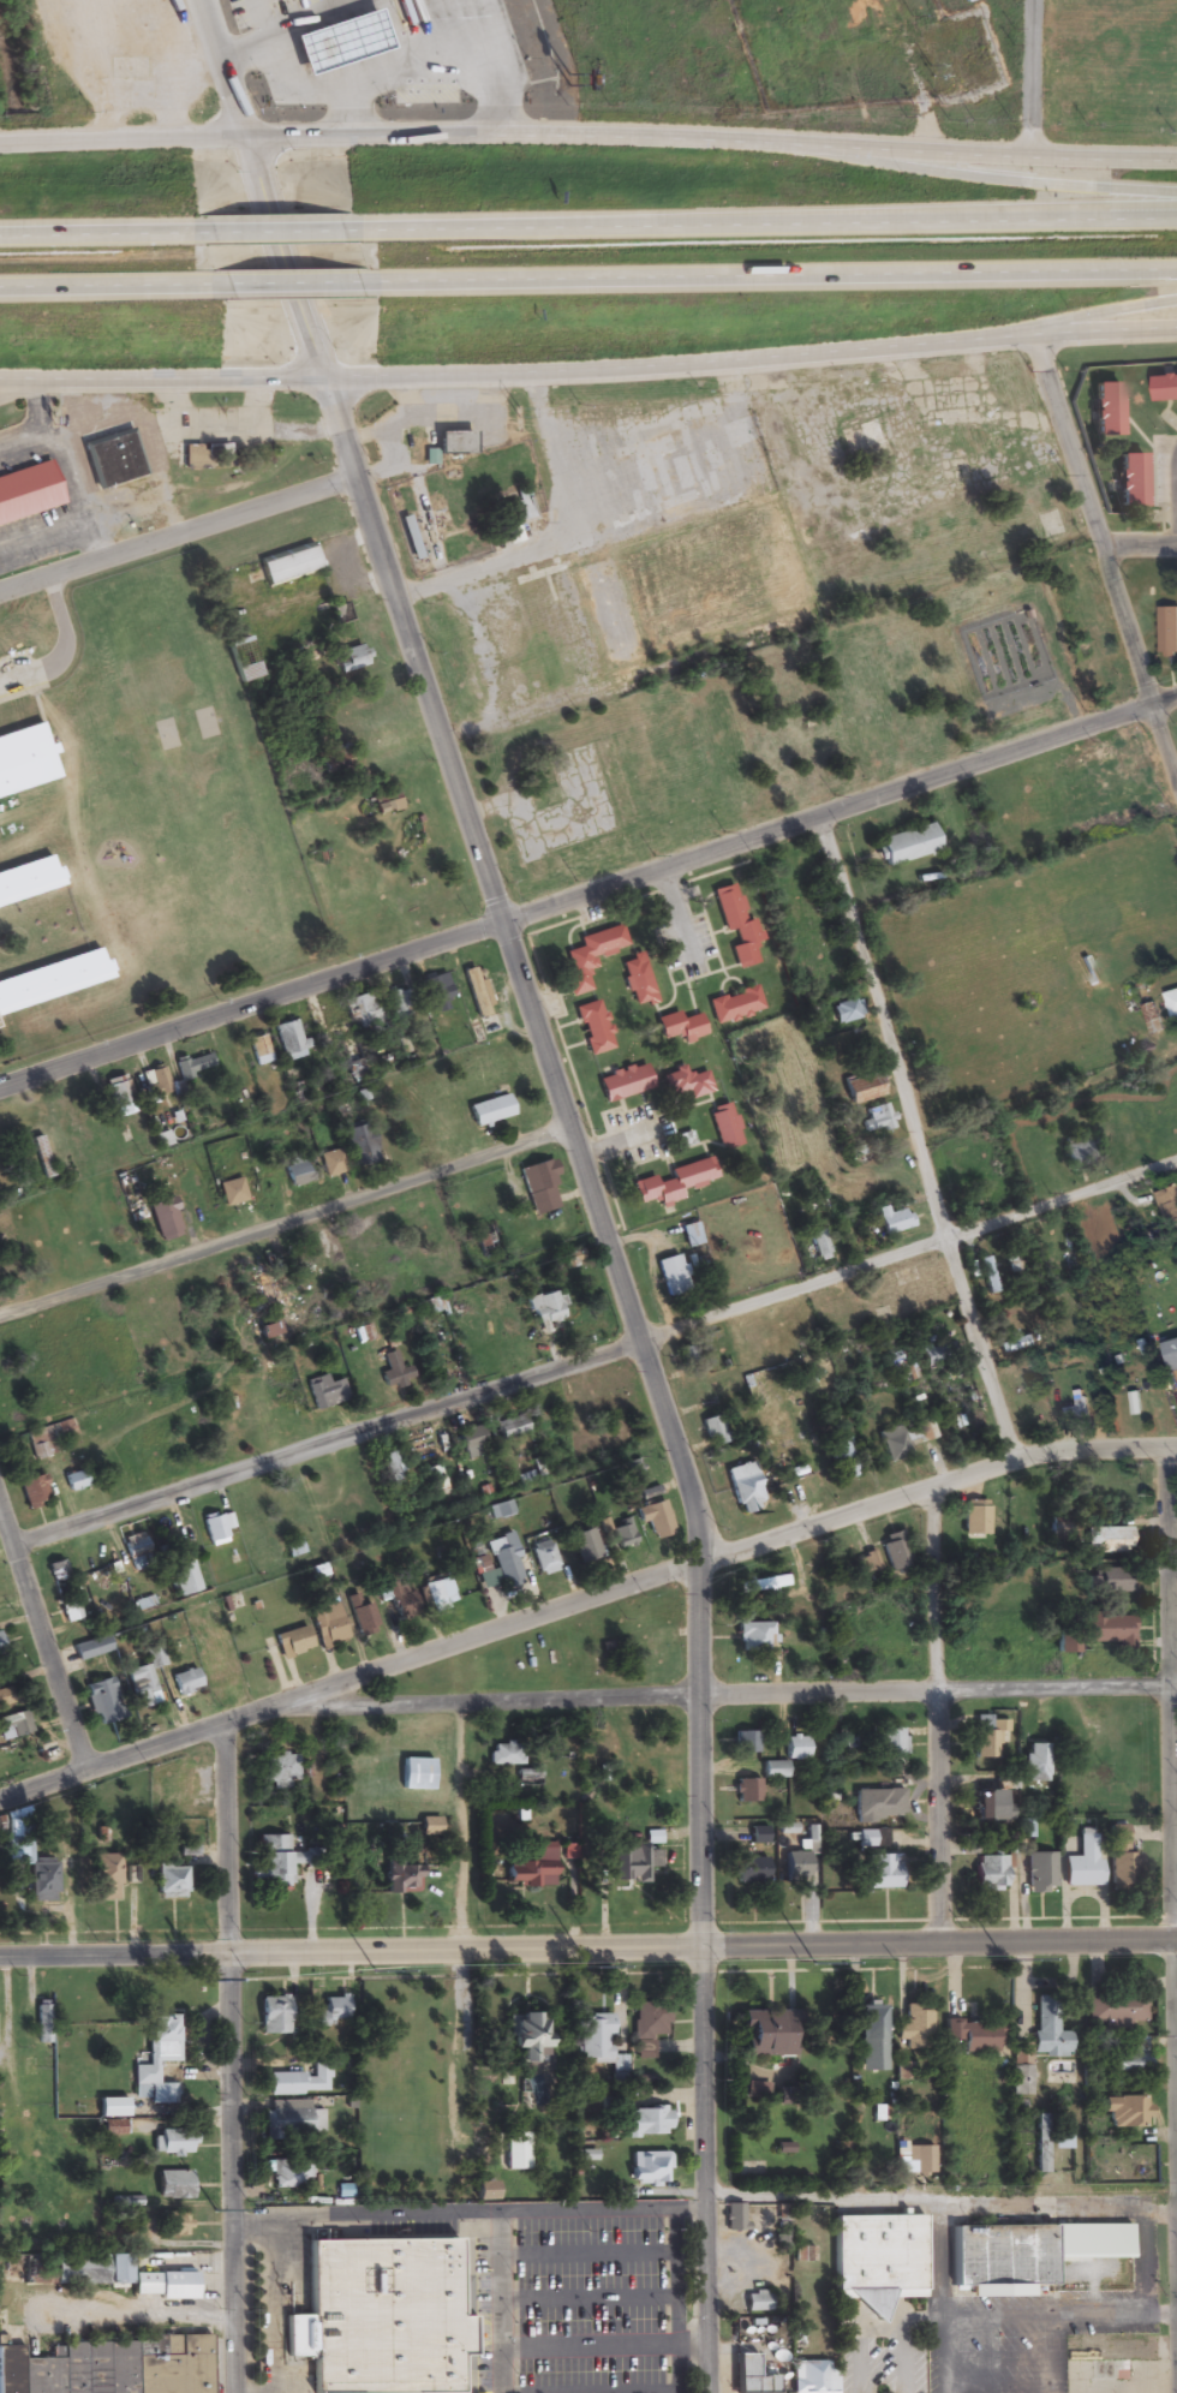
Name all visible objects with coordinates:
building: (327, 11)
building: (436, 13)
building: (114, 28)
building: (347, 31)
gas station: (347, 31)
road: (221, 70)
road: (1032, 79)
road: (588, 136)
road: (997, 181)
road: (761, 227)
road: (269, 239)
road: (95, 243)
road: (775, 279)
road: (103, 285)
road: (289, 285)
road: (1038, 326)
road: (588, 371)
building: (1165, 388)
road: (28, 390)
building: (1104, 411)
building: (453, 444)
building: (215, 455)
building: (113, 460)
building: (1128, 482)
building: (30, 483)
building: (519, 508)
road: (177, 529)
building: (408, 539)
road: (1141, 547)
road: (1109, 557)
building: (288, 567)
building: (688, 585)
building: (1167, 631)
building: (237, 649)
building: (353, 658)
building: (245, 673)
road: (1164, 702)
building: (831, 740)
building: (26, 750)
building: (387, 808)
building: (907, 846)
road: (477, 851)
building: (30, 870)
road: (576, 899)
building: (735, 926)
building: (590, 956)
building: (54, 972)
building: (637, 981)
building: (476, 992)
building: (436, 993)
building: (396, 1004)
building: (1172, 1004)
building: (734, 1005)
building: (365, 1009)
building: (847, 1011)
building: (0, 1016)
building: (1153, 1019)
building: (679, 1027)
building: (592, 1028)
building: (289, 1040)
building: (258, 1050)
building: (352, 1057)
building: (193, 1067)
building: (155, 1082)
building: (623, 1084)
building: (685, 1086)
building: (119, 1097)
building: (480, 1114)
building: (879, 1118)
building: (723, 1127)
building: (1127, 1133)
road: (913, 1140)
building: (359, 1144)
building: (856, 1153)
building: (1080, 1153)
building: (41, 1157)
building: (330, 1163)
building: (297, 1171)
building: (674, 1182)
building: (539, 1188)
building: (975, 1190)
building: (232, 1193)
building: (1167, 1204)
building: (165, 1219)
building: (894, 1221)
road: (283, 1222)
building: (691, 1235)
building: (486, 1239)
building: (818, 1243)
building: (1012, 1261)
building: (671, 1276)
building: (987, 1276)
building: (313, 1281)
building: (264, 1289)
building: (545, 1309)
building: (267, 1331)
building: (1014, 1342)
building: (1171, 1354)
road: (597, 1356)
building: (691, 1360)
building: (394, 1372)
building: (325, 1392)
building: (1076, 1410)
building: (509, 1427)
building: (710, 1428)
building: (903, 1439)
building: (471, 1442)
building: (843, 1458)
building: (392, 1464)
building: (635, 1470)
building: (74, 1481)
building: (436, 1481)
building: (745, 1488)
building: (32, 1491)
building: (975, 1512)
building: (655, 1520)
building: (216, 1529)
building: (623, 1535)
building: (1106, 1540)
building: (584, 1545)
building: (133, 1547)
building: (894, 1550)
building: (544, 1558)
building: (506, 1562)
building: (868, 1563)
building: (55, 1571)
building: (185, 1579)
building: (1112, 1581)
building: (761, 1586)
building: (436, 1592)
building: (400, 1598)
road: (582, 1601)
building: (70, 1611)
building: (362, 1617)
building: (327, 1625)
building: (1106, 1629)
building: (639, 1631)
building: (753, 1637)
road: (43, 1640)
building: (292, 1642)
building: (91, 1648)
building: (0, 1649)
building: (155, 1657)
building: (215, 1666)
building: (179, 1683)
building: (141, 1687)
road: (723, 1693)
building: (2, 1699)
building: (102, 1701)
road: (936, 1715)
building: (14, 1724)
building: (987, 1736)
building: (891, 1742)
building: (745, 1743)
building: (795, 1748)
building: (504, 1755)
building: (1035, 1762)
building: (280, 1768)
building: (775, 1770)
building: (416, 1773)
road: (1172, 1783)
building: (185, 1789)
building: (747, 1791)
building: (878, 1804)
building: (991, 1807)
building: (1024, 1828)
building: (758, 1836)
building: (871, 1839)
building: (274, 1861)
building: (1083, 1861)
building: (628, 1862)
building: (1121, 1862)
building: (795, 1866)
building: (530, 1867)
building: (749, 1870)
building: (882, 1872)
building: (990, 1872)
building: (1040, 1873)
building: (106, 1876)
building: (399, 1876)
building: (169, 1881)
road: (587, 1949)
power tower: (1003, 1958)
power tower: (814, 1962)
power tower: (590, 1967)
power tower: (374, 1970)
road: (703, 1977)
power tower: (204, 1980)
building: (331, 2011)
building: (1116, 2011)
building: (273, 2016)
building: (41, 2022)
building: (871, 2025)
building: (649, 2027)
building: (914, 2028)
building: (1048, 2033)
building: (764, 2034)
building: (973, 2036)
building: (527, 2037)
building: (598, 2043)
road: (231, 2058)
building: (1128, 2058)
building: (156, 2060)
building: (1021, 2070)
building: (297, 2083)
building: (754, 2090)
building: (1125, 2112)
building: (294, 2120)
building: (646, 2122)
building: (1062, 2141)
building: (174, 2142)
building: (1041, 2143)
building: (515, 2152)
building: (918, 2161)
building: (647, 2168)
building: (289, 2176)
building: (173, 2185)
building: (483, 2192)
road: (940, 2198)
power tower: (215, 2208)
road: (586, 2209)
road: (364, 2214)
building: (734, 2218)
building: (174, 2225)
road: (587, 2252)
building: (877, 2257)
building: (999, 2260)
building: (90, 2270)
building: (161, 2286)
road: (587, 2300)
road: (675, 2300)
road: (500, 2302)
building: (757, 2302)
road: (270, 2304)
building: (386, 2309)
road: (691, 2345)
road: (587, 2347)
building: (112, 2368)
building: (813, 2374)
building: (751, 2376)

